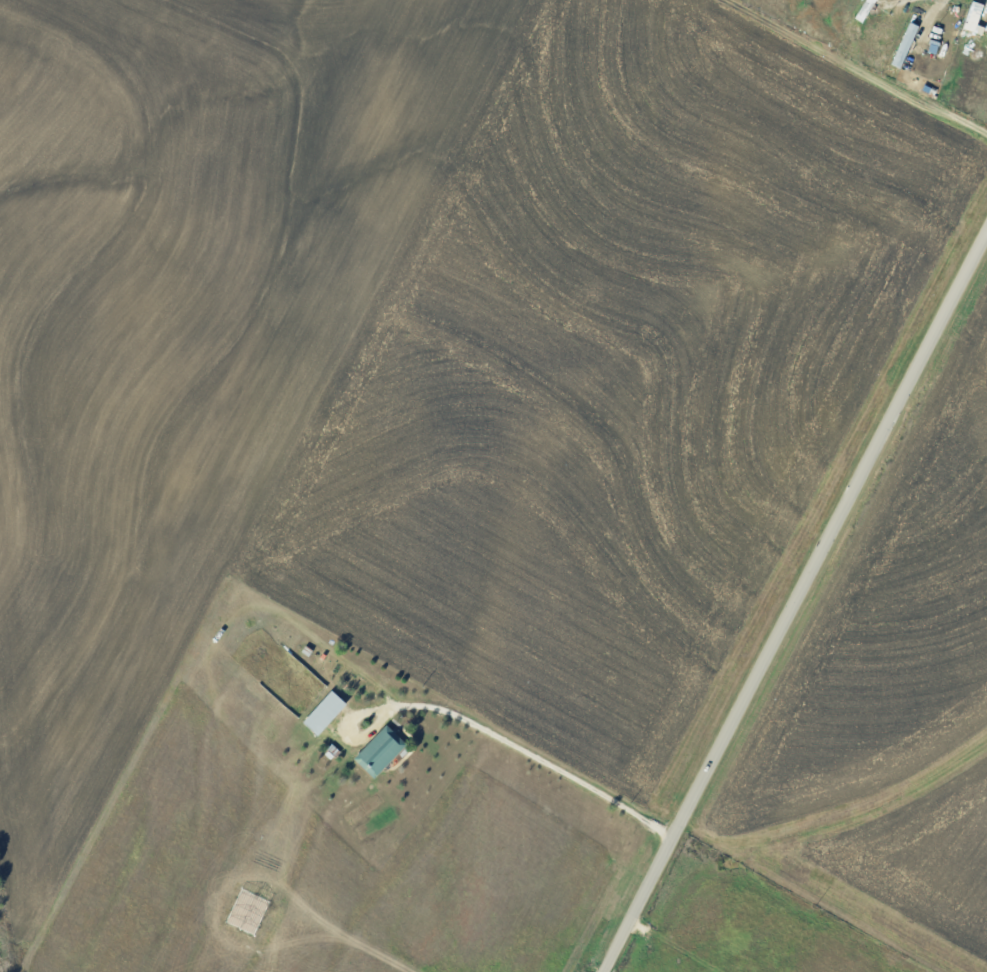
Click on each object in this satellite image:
building: (972, 19)
building: (906, 45)
road: (866, 66)
road: (795, 605)
building: (326, 712)
road: (494, 735)
building: (381, 751)

